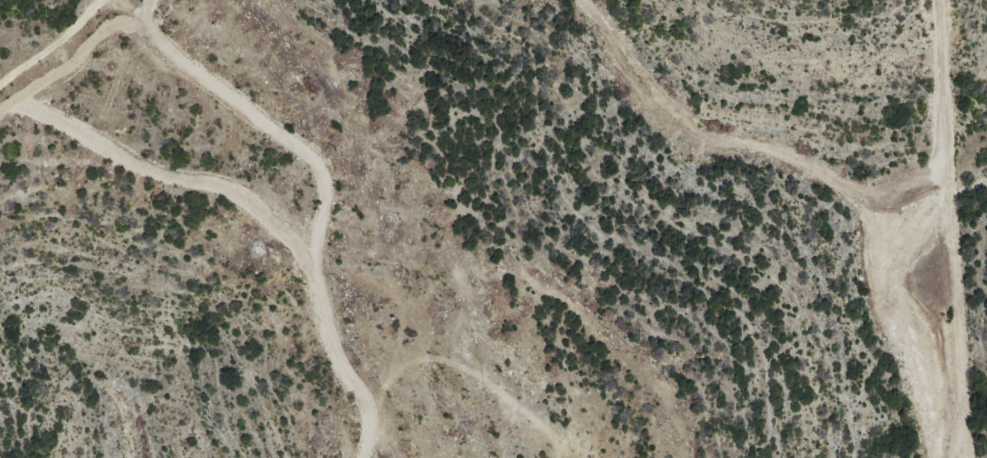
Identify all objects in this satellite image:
road: (53, 47)

